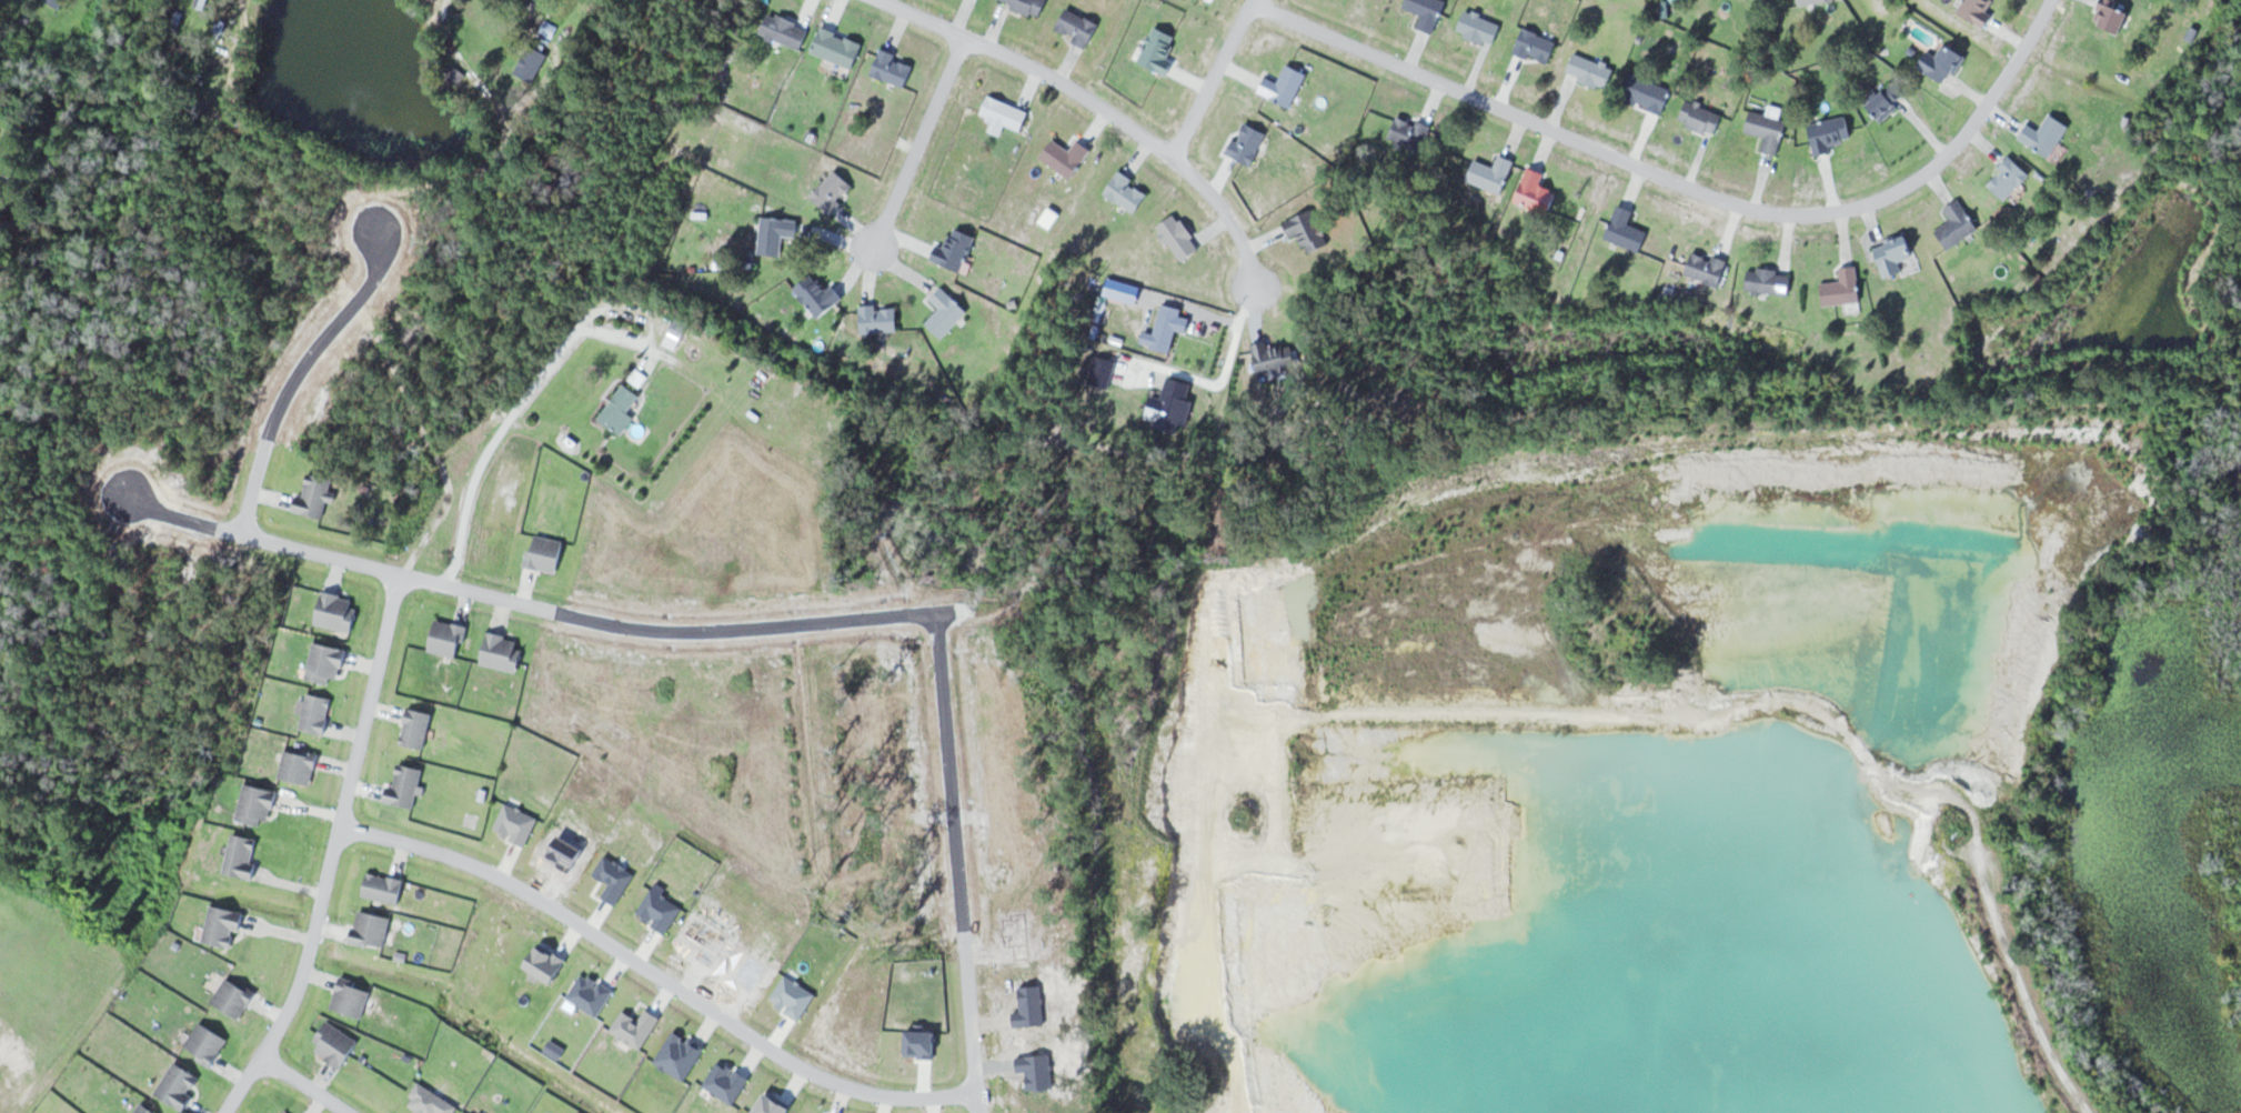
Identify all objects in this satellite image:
building: (57, 2)
building: (1809, 2)
building: (1027, 6)
building: (1977, 11)
building: (1427, 12)
building: (2112, 17)
building: (1076, 27)
building: (1479, 28)
building: (549, 29)
building: (785, 30)
building: (1536, 46)
building: (837, 47)
building: (1159, 51)
building: (531, 62)
building: (1942, 62)
building: (893, 68)
building: (1591, 70)
building: (455, 76)
road: (1210, 77)
building: (1285, 86)
building: (1647, 93)
building: (1888, 100)
road: (1102, 108)
building: (1005, 112)
building: (1768, 130)
building: (1410, 132)
road: (248, 133)
building: (1829, 133)
building: (2046, 134)
road: (506, 140)
road: (917, 143)
building: (1248, 144)
building: (1066, 158)
building: (1493, 174)
building: (2009, 178)
road: (1684, 184)
building: (832, 192)
building: (1127, 192)
building: (1537, 192)
building: (1957, 224)
building: (1308, 230)
building: (1626, 230)
building: (775, 234)
building: (1179, 238)
building: (955, 251)
building: (1895, 254)
building: (1707, 268)
building: (1769, 281)
building: (1843, 288)
building: (817, 297)
building: (946, 313)
building: (880, 320)
building: (1166, 328)
building: (675, 334)
road: (1233, 347)
building: (1275, 358)
building: (1105, 373)
road: (403, 392)
building: (1173, 405)
building: (620, 410)
road: (504, 437)
road: (254, 484)
road: (384, 569)
road: (393, 839)
road: (332, 851)
road: (2003, 933)
road: (305, 1084)

